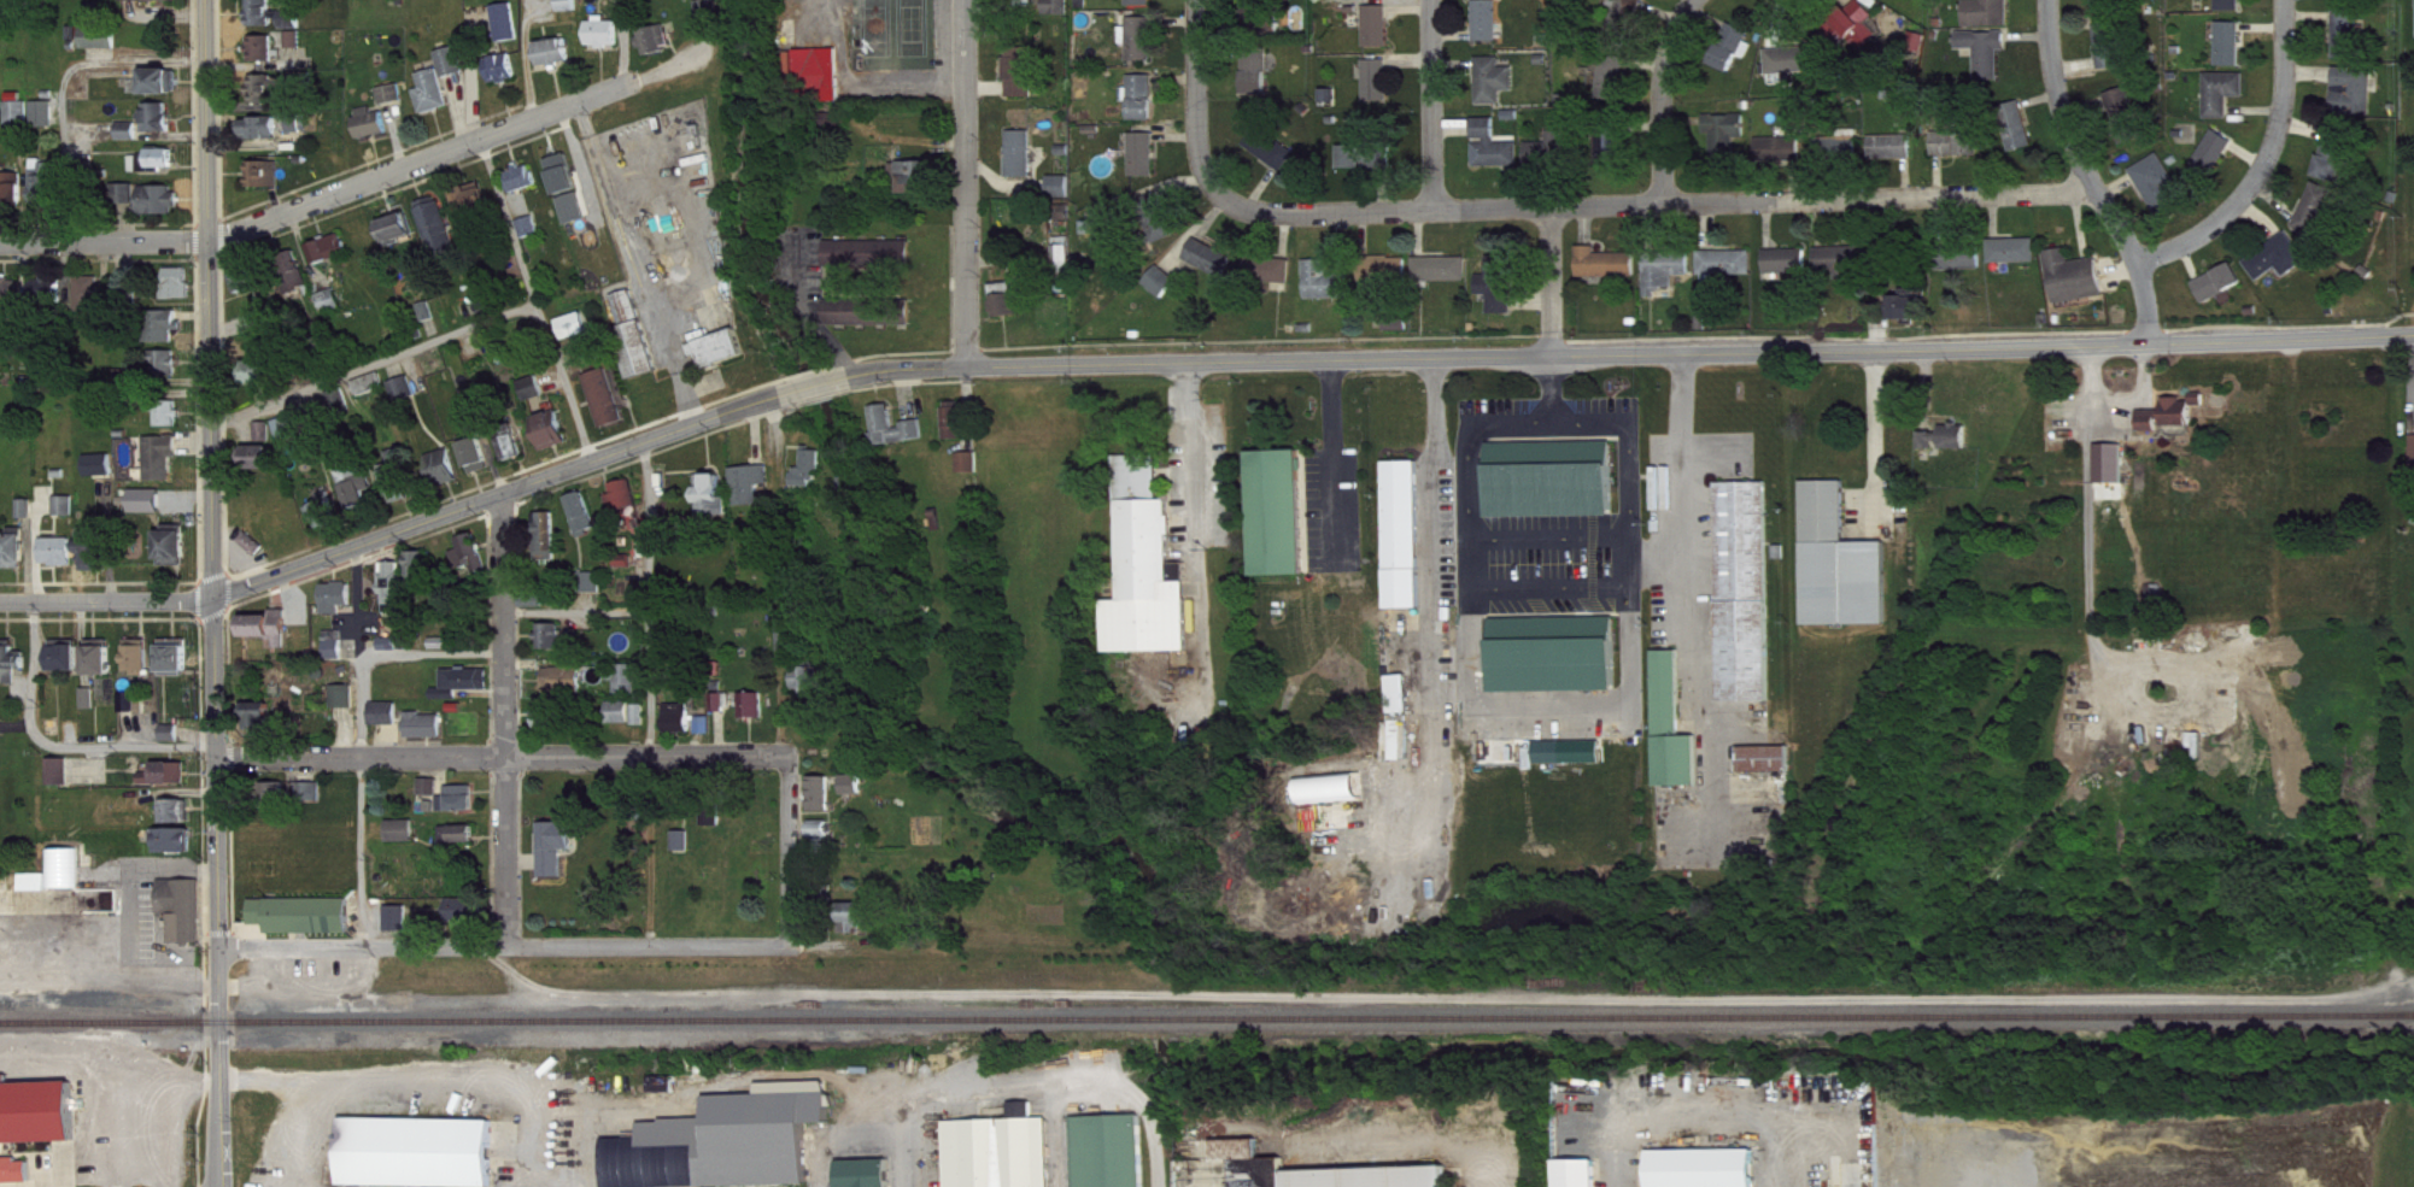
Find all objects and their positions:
building: (1487, 0)
building: (1375, 1)
building: (1892, 1)
building: (626, 4)
building: (156, 5)
building: (2349, 5)
building: (1143, 7)
building: (2110, 8)
building: (570, 10)
building: (2232, 10)
building: (1059, 14)
road: (192, 16)
building: (713, 18)
building: (1992, 18)
building: (1255, 19)
building: (264, 22)
building: (1629, 22)
road: (217, 23)
building: (294, 29)
building: (1489, 30)
building: (510, 31)
building: (1859, 34)
building: (1379, 35)
building: (605, 42)
building: (2350, 43)
building: (102, 47)
building: (297, 48)
building: (1144, 48)
building: (660, 49)
building: (2232, 53)
building: (2113, 55)
building: (1735, 57)
building: (265, 58)
building: (1987, 60)
building: (556, 61)
building: (1798, 69)
building: (455, 71)
building: (505, 77)
building: (1024, 81)
building: (822, 82)
building: (1259, 83)
building: (1616, 87)
building: (1379, 89)
building: (1496, 89)
building: (163, 90)
building: (286, 95)
road: (1663, 96)
building: (2357, 100)
building: (435, 101)
road: (1197, 101)
building: (2226, 102)
building: (394, 104)
road: (1436, 104)
building: (1332, 105)
building: (1146, 107)
building: (2123, 123)
building: (22, 124)
building: (47, 124)
building: (162, 127)
building: (374, 131)
building: (301, 133)
building: (2020, 135)
building: (262, 137)
building: (131, 141)
building: (1728, 143)
building: (1959, 153)
building: (1496, 155)
building: (1842, 155)
building: (1894, 157)
building: (1273, 158)
building: (1610, 158)
building: (1782, 159)
building: (1553, 160)
building: (2216, 161)
building: (1024, 163)
road: (2268, 163)
building: (2337, 163)
building: (1147, 164)
building: (1365, 165)
building: (160, 169)
road: (2088, 174)
road: (965, 182)
building: (268, 183)
road: (358, 183)
building: (566, 183)
building: (919, 186)
building: (526, 188)
building: (49, 193)
building: (2160, 193)
building: (17, 196)
building: (1064, 196)
road: (1658, 202)
building: (475, 207)
building: (151, 208)
building: (576, 218)
building: (2318, 219)
building: (1068, 221)
building: (1159, 228)
building: (440, 236)
building: (532, 236)
building: (402, 237)
building: (333, 259)
building: (2015, 260)
building: (873, 264)
building: (1067, 264)
building: (1212, 268)
building: (2281, 268)
building: (1963, 269)
building: (1789, 270)
building: (1844, 270)
building: (1609, 272)
building: (1728, 272)
building: (1272, 278)
building: (1443, 278)
building: (1668, 278)
building: (1388, 280)
road: (1554, 282)
building: (2076, 287)
building: (248, 289)
building: (1165, 290)
building: (181, 292)
building: (1326, 292)
building: (2222, 292)
building: (1502, 294)
building: (299, 296)
building: (12, 300)
road: (534, 300)
building: (55, 301)
building: (95, 304)
building: (1008, 310)
building: (1911, 313)
building: (629, 317)
building: (429, 321)
building: (873, 322)
building: (270, 327)
building: (1399, 333)
building: (168, 335)
building: (576, 335)
road: (830, 345)
road: (1629, 357)
building: (639, 358)
building: (723, 358)
road: (373, 364)
building: (168, 372)
building: (260, 382)
road: (815, 386)
road: (1555, 390)
building: (373, 394)
building: (535, 398)
building: (405, 399)
building: (608, 407)
building: (341, 412)
building: (171, 424)
building: (2170, 424)
building: (957, 429)
building: (292, 436)
building: (897, 436)
building: (555, 440)
building: (268, 441)
road: (1881, 445)
building: (1949, 447)
building: (515, 457)
road: (1331, 458)
road: (1628, 458)
building: (479, 462)
building: (163, 464)
road: (1191, 465)
building: (262, 466)
building: (972, 471)
building: (2114, 472)
building: (102, 475)
building: (446, 477)
building: (1548, 477)
building: (813, 478)
building: (754, 493)
building: (400, 494)
building: (359, 495)
road: (1684, 495)
building: (627, 505)
building: (716, 505)
building: (68, 516)
building: (29, 518)
building: (329, 521)
building: (1281, 522)
building: (586, 523)
building: (1400, 531)
road: (399, 534)
road: (1554, 536)
building: (550, 545)
road: (1466, 551)
building: (254, 552)
building: (95, 556)
building: (177, 557)
building: (18, 558)
road: (1656, 559)
building: (60, 560)
building: (473, 564)
building: (421, 572)
building: (1842, 572)
building: (1740, 588)
road: (209, 593)
building: (1150, 594)
building: (396, 595)
road: (648, 601)
road: (1437, 604)
building: (339, 606)
building: (271, 636)
building: (553, 645)
building: (576, 647)
building: (791, 650)
building: (1551, 651)
building: (335, 652)
road: (356, 653)
road: (428, 654)
building: (68, 665)
building: (141, 666)
building: (178, 666)
building: (102, 668)
building: (12, 671)
building: (628, 687)
building: (810, 688)
building: (566, 689)
building: (464, 692)
building: (1402, 703)
building: (345, 705)
building: (92, 707)
building: (725, 711)
building: (130, 712)
building: (756, 715)
building: (621, 722)
building: (1669, 722)
building: (386, 723)
road: (502, 723)
building: (551, 723)
building: (641, 724)
building: (262, 727)
building: (681, 728)
building: (707, 734)
building: (426, 735)
building: (54, 736)
building: (174, 742)
building: (1401, 745)
road: (53, 747)
road: (504, 758)
building: (1574, 762)
building: (1769, 768)
building: (60, 781)
building: (169, 783)
building: (856, 794)
building: (432, 797)
building: (1334, 798)
building: (312, 801)
building: (279, 804)
building: (824, 804)
building: (461, 809)
building: (180, 821)
building: (716, 828)
building: (824, 839)
building: (404, 841)
building: (461, 844)
building: (684, 850)
road: (790, 850)
building: (178, 851)
road: (358, 852)
building: (557, 857)
building: (36, 892)
building: (186, 918)
building: (467, 919)
building: (305, 924)
building: (857, 927)
building: (400, 928)
road: (504, 945)
railway: (1207, 1015)
road: (427, 1079)
building: (667, 1094)
road: (1712, 1098)
building: (35, 1128)
building: (678, 1141)
road: (872, 1151)
building: (1004, 1156)
building: (1115, 1156)
building: (421, 1157)
building: (1241, 1159)
road: (1483, 1171)
building: (1709, 1173)
road: (539, 1177)
building: (1582, 1177)
building: (868, 1179)

